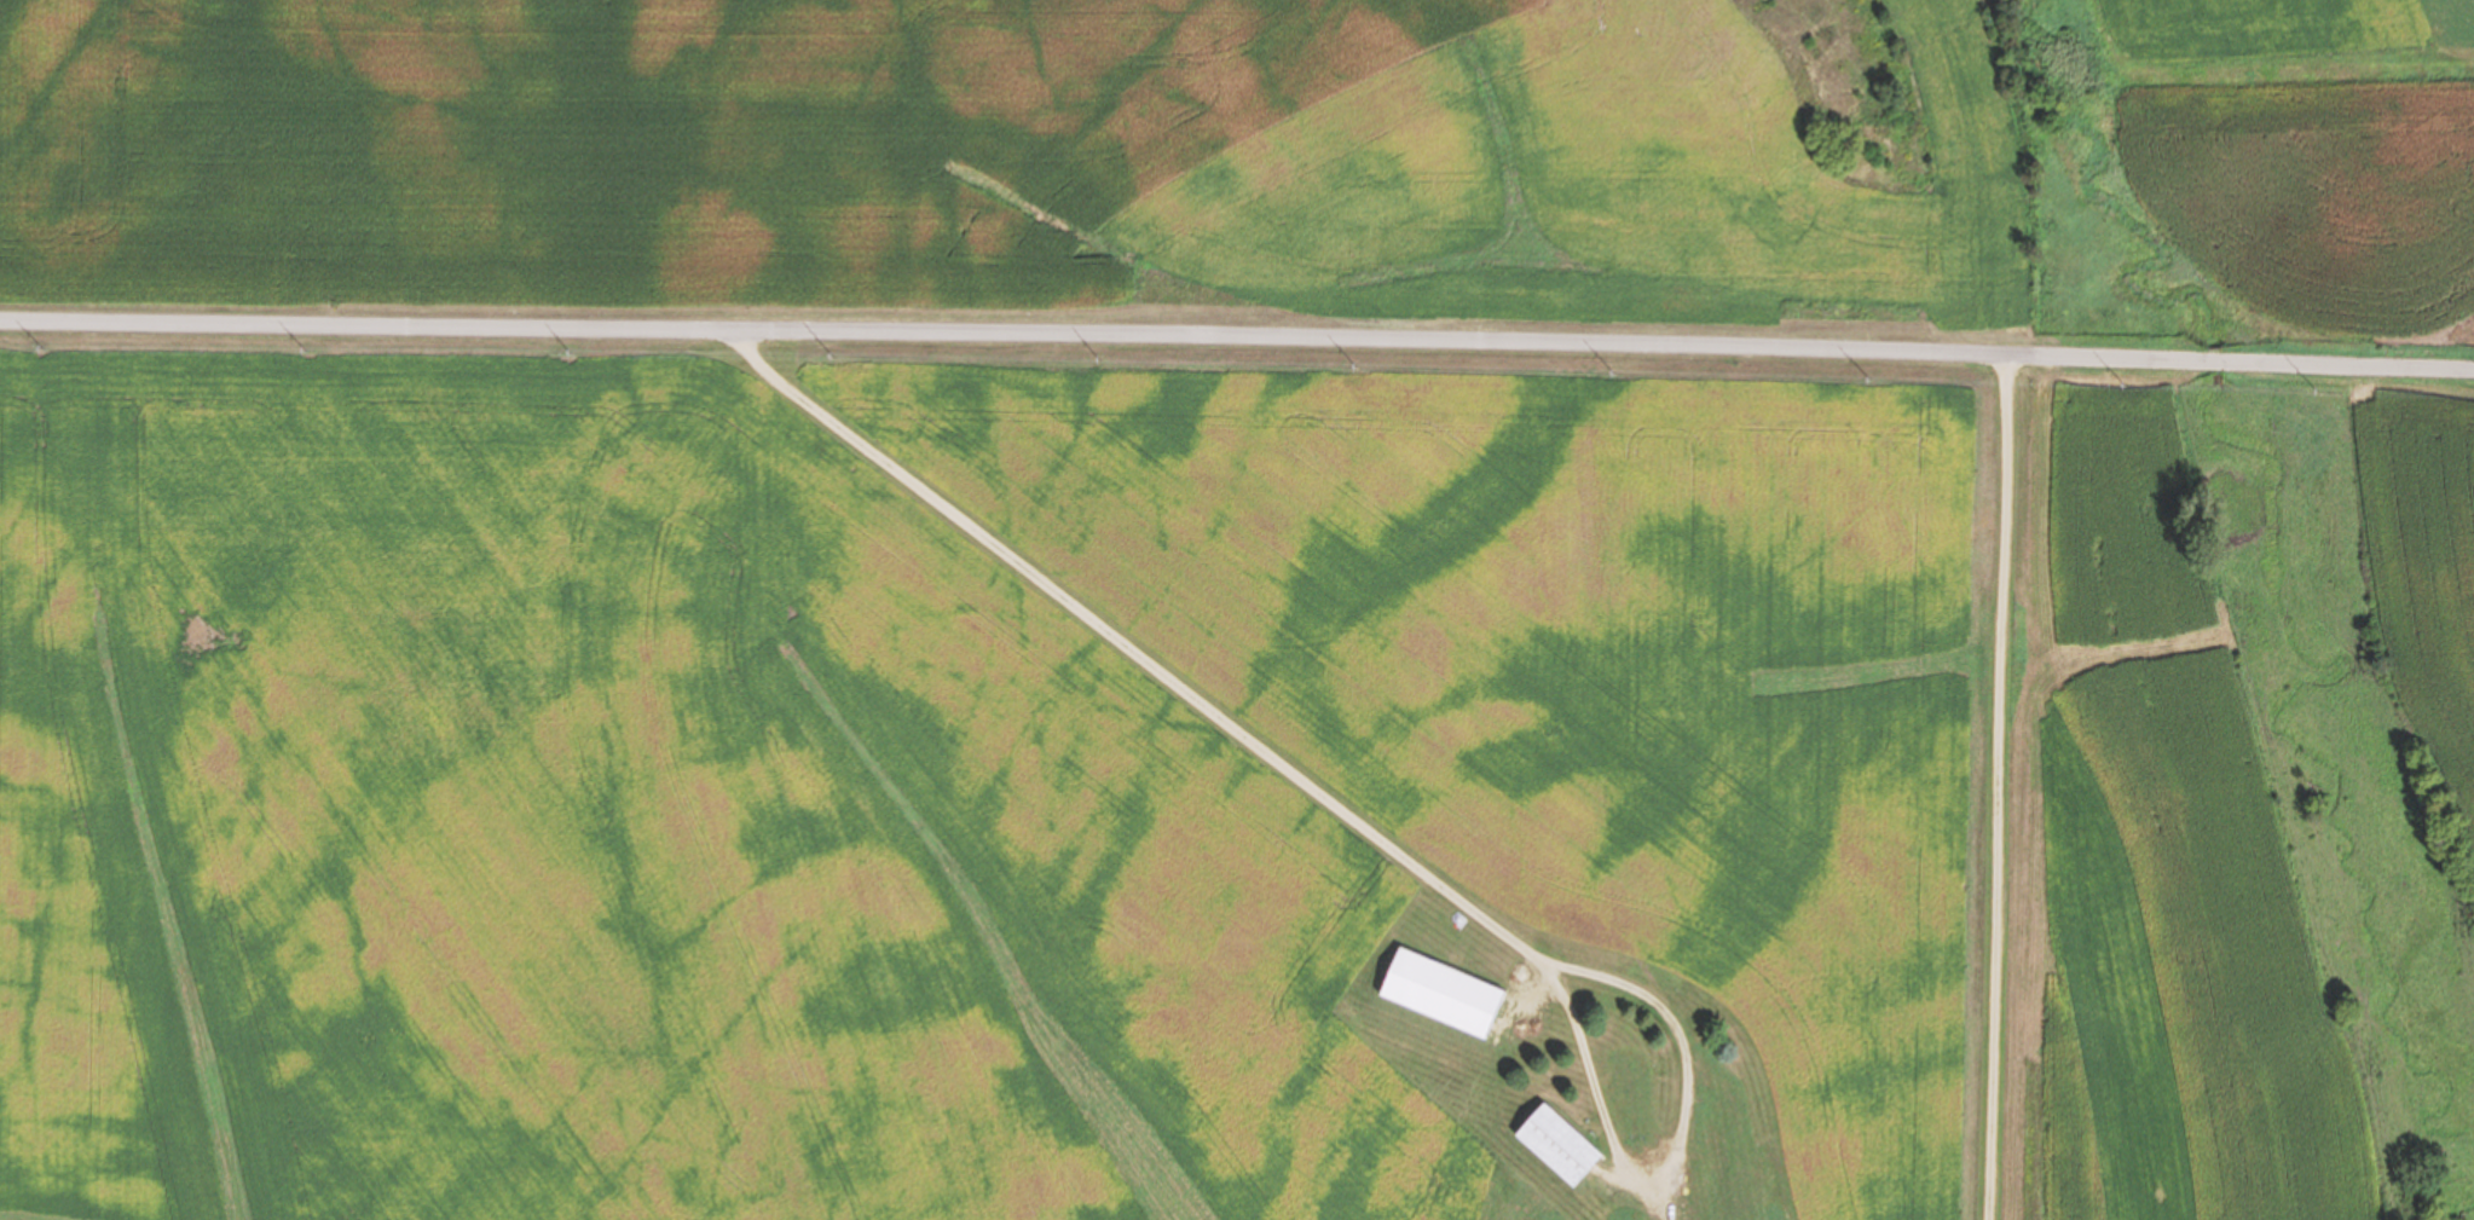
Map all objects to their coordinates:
road: (1237, 336)
road: (1236, 706)
road: (2005, 787)
building: (1438, 994)
building: (1625, 1075)
building: (1707, 1131)
building: (1555, 1144)
building: (1715, 1219)

